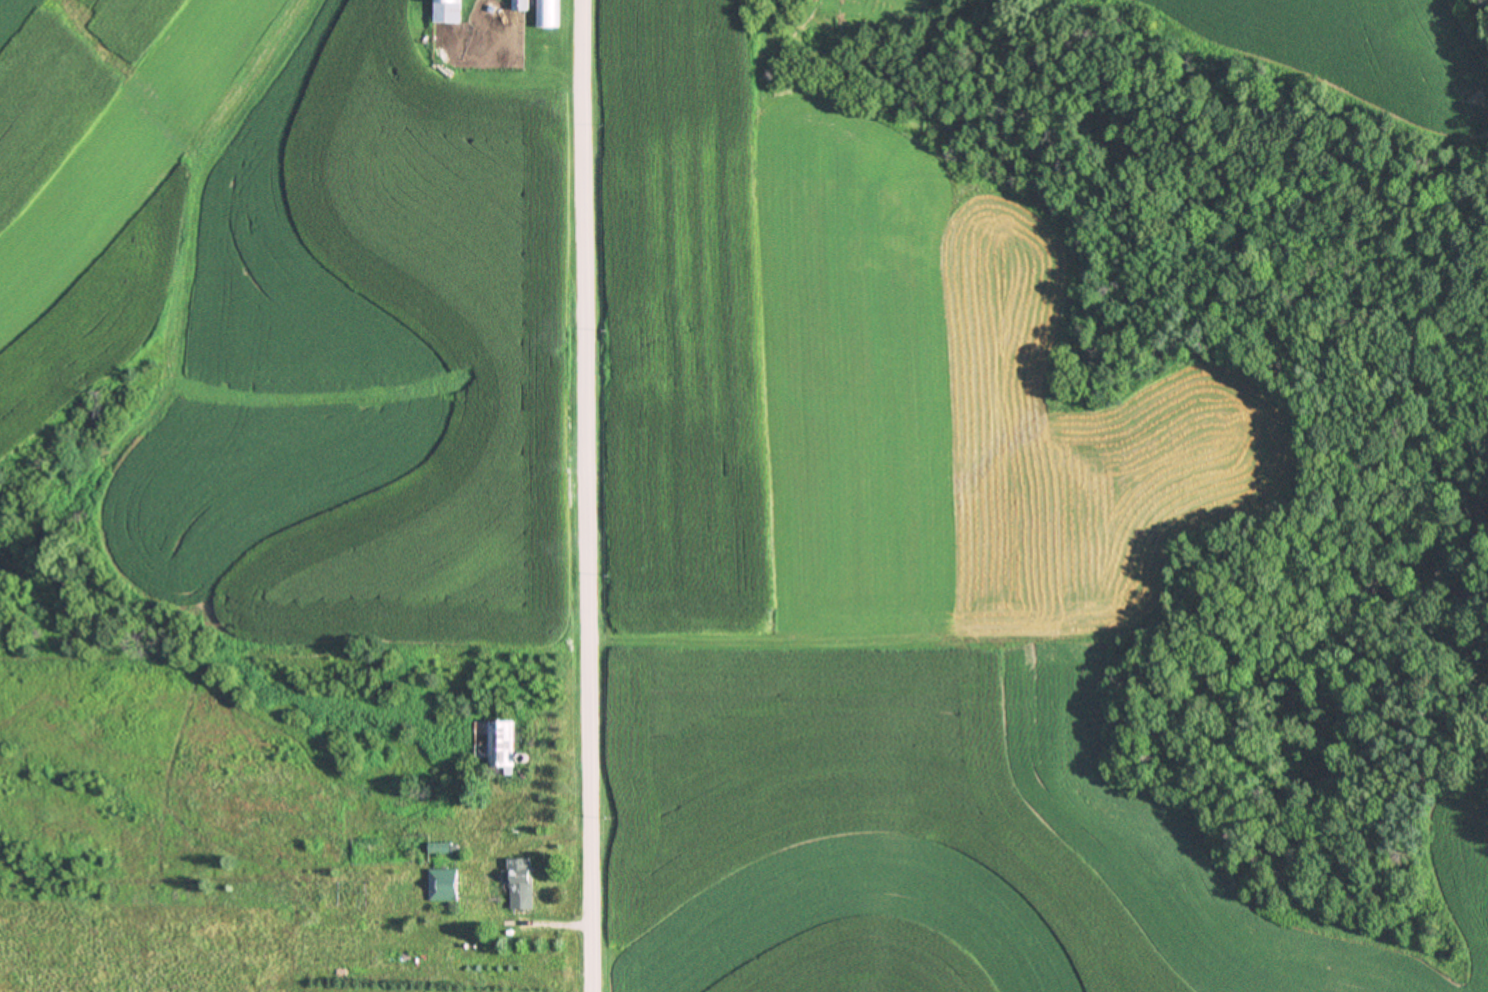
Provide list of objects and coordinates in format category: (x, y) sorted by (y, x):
building: (522, 4)
building: (448, 11)
building: (547, 13)
road: (591, 496)
building: (495, 740)
building: (521, 881)
building: (444, 884)

